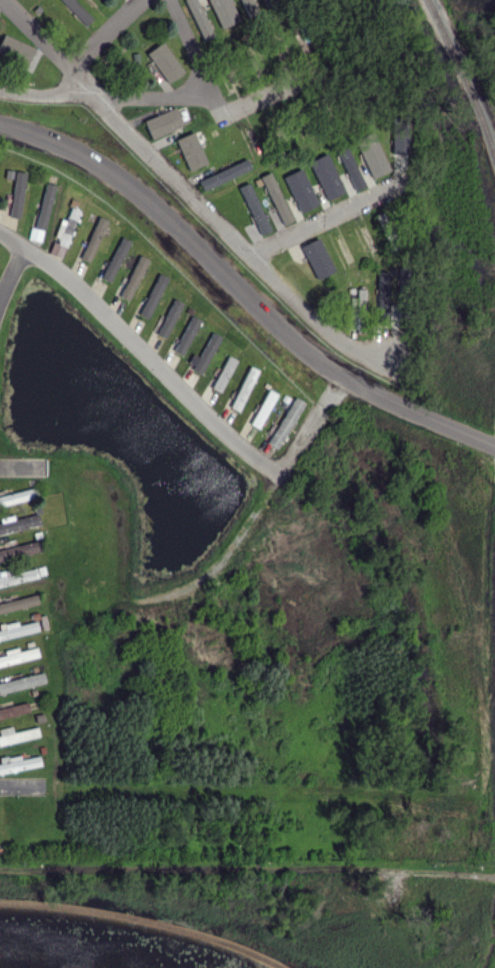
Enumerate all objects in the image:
building: (79, 9)
building: (246, 9)
building: (219, 11)
building: (258, 13)
building: (279, 19)
building: (198, 23)
road: (105, 33)
building: (143, 34)
building: (305, 35)
building: (218, 41)
building: (224, 48)
building: (281, 49)
building: (258, 59)
building: (23, 62)
building: (164, 62)
building: (232, 71)
railway: (464, 74)
building: (30, 83)
road: (105, 94)
road: (214, 98)
building: (163, 121)
building: (403, 139)
building: (191, 150)
building: (372, 154)
building: (350, 167)
building: (224, 174)
building: (9, 175)
building: (326, 176)
park: (441, 178)
building: (300, 189)
building: (16, 195)
road: (192, 197)
building: (275, 198)
building: (44, 206)
building: (254, 207)
road: (327, 217)
building: (68, 229)
building: (387, 232)
building: (91, 239)
building: (115, 258)
building: (317, 258)
building: (406, 262)
road: (11, 272)
building: (384, 272)
building: (133, 277)
building: (328, 290)
road: (243, 291)
building: (152, 296)
building: (353, 296)
building: (360, 311)
building: (169, 318)
building: (186, 335)
road: (142, 350)
building: (206, 353)
building: (223, 373)
building: (243, 388)
building: (262, 408)
building: (285, 422)
road: (22, 467)
building: (18, 497)
road: (254, 514)
building: (19, 523)
building: (18, 550)
building: (18, 578)
building: (17, 602)
building: (34, 617)
building: (18, 631)
building: (29, 645)
building: (16, 657)
building: (34, 670)
building: (18, 684)
building: (33, 694)
building: (18, 709)
building: (39, 719)
building: (18, 736)
building: (19, 765)
road: (22, 785)
railway: (142, 922)

